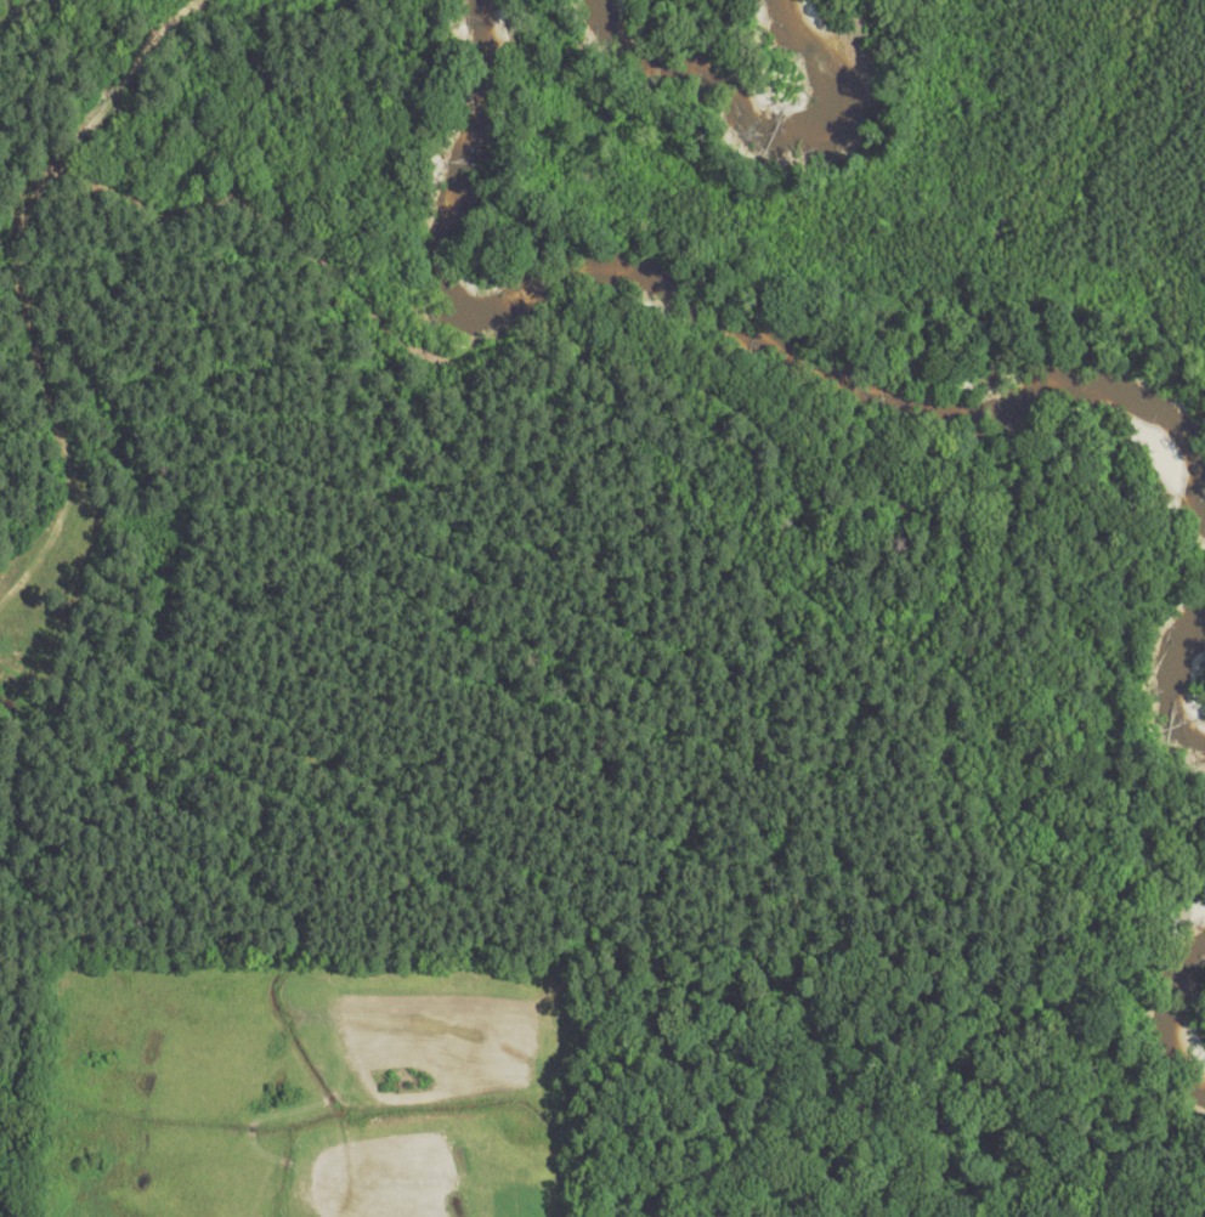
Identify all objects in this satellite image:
river: (752, 132)
river: (698, 309)
river: (1166, 680)
river: (1164, 1014)

